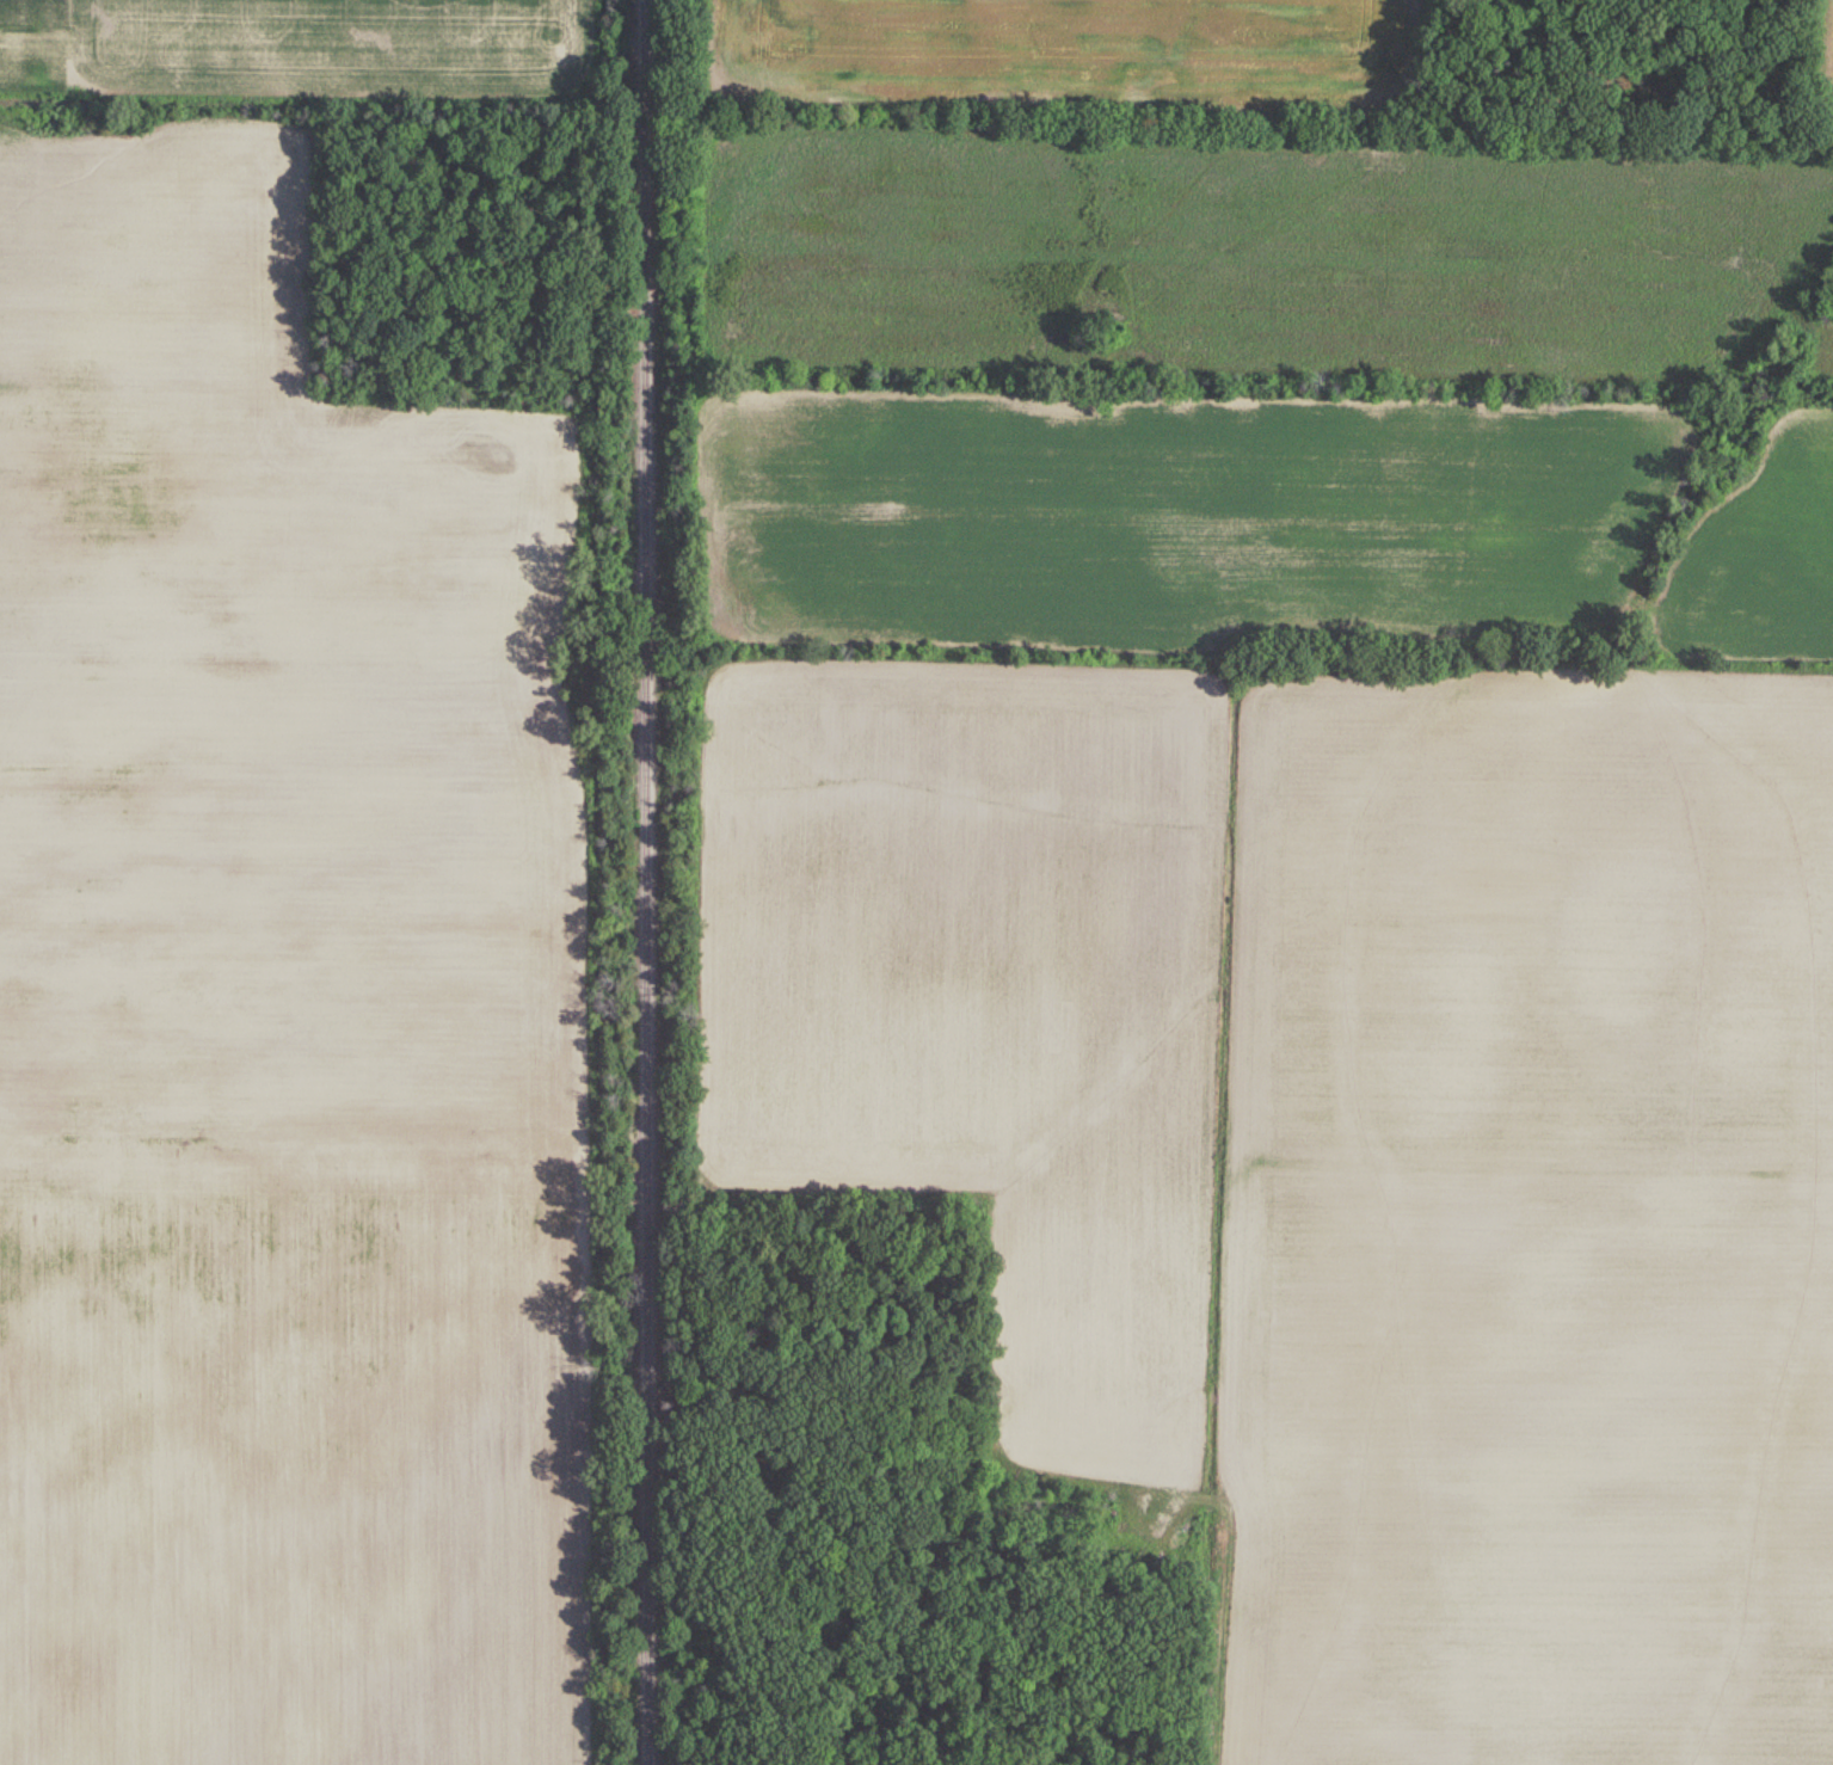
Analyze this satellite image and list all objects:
railway: (635, 882)

